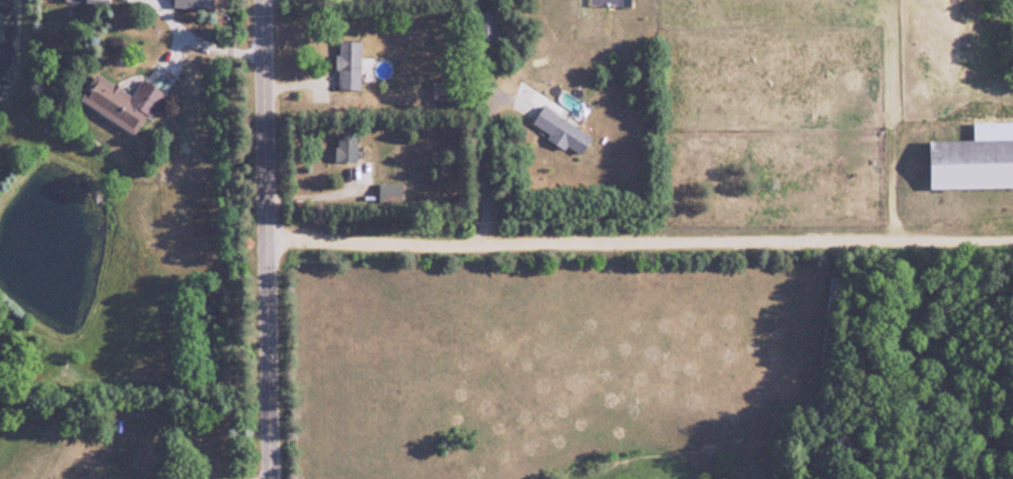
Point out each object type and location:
building: (91, 1)
building: (194, 4)
building: (350, 65)
building: (444, 91)
building: (124, 102)
building: (562, 130)
building: (347, 146)
building: (973, 163)
road: (480, 169)
road: (266, 239)
road: (640, 259)

